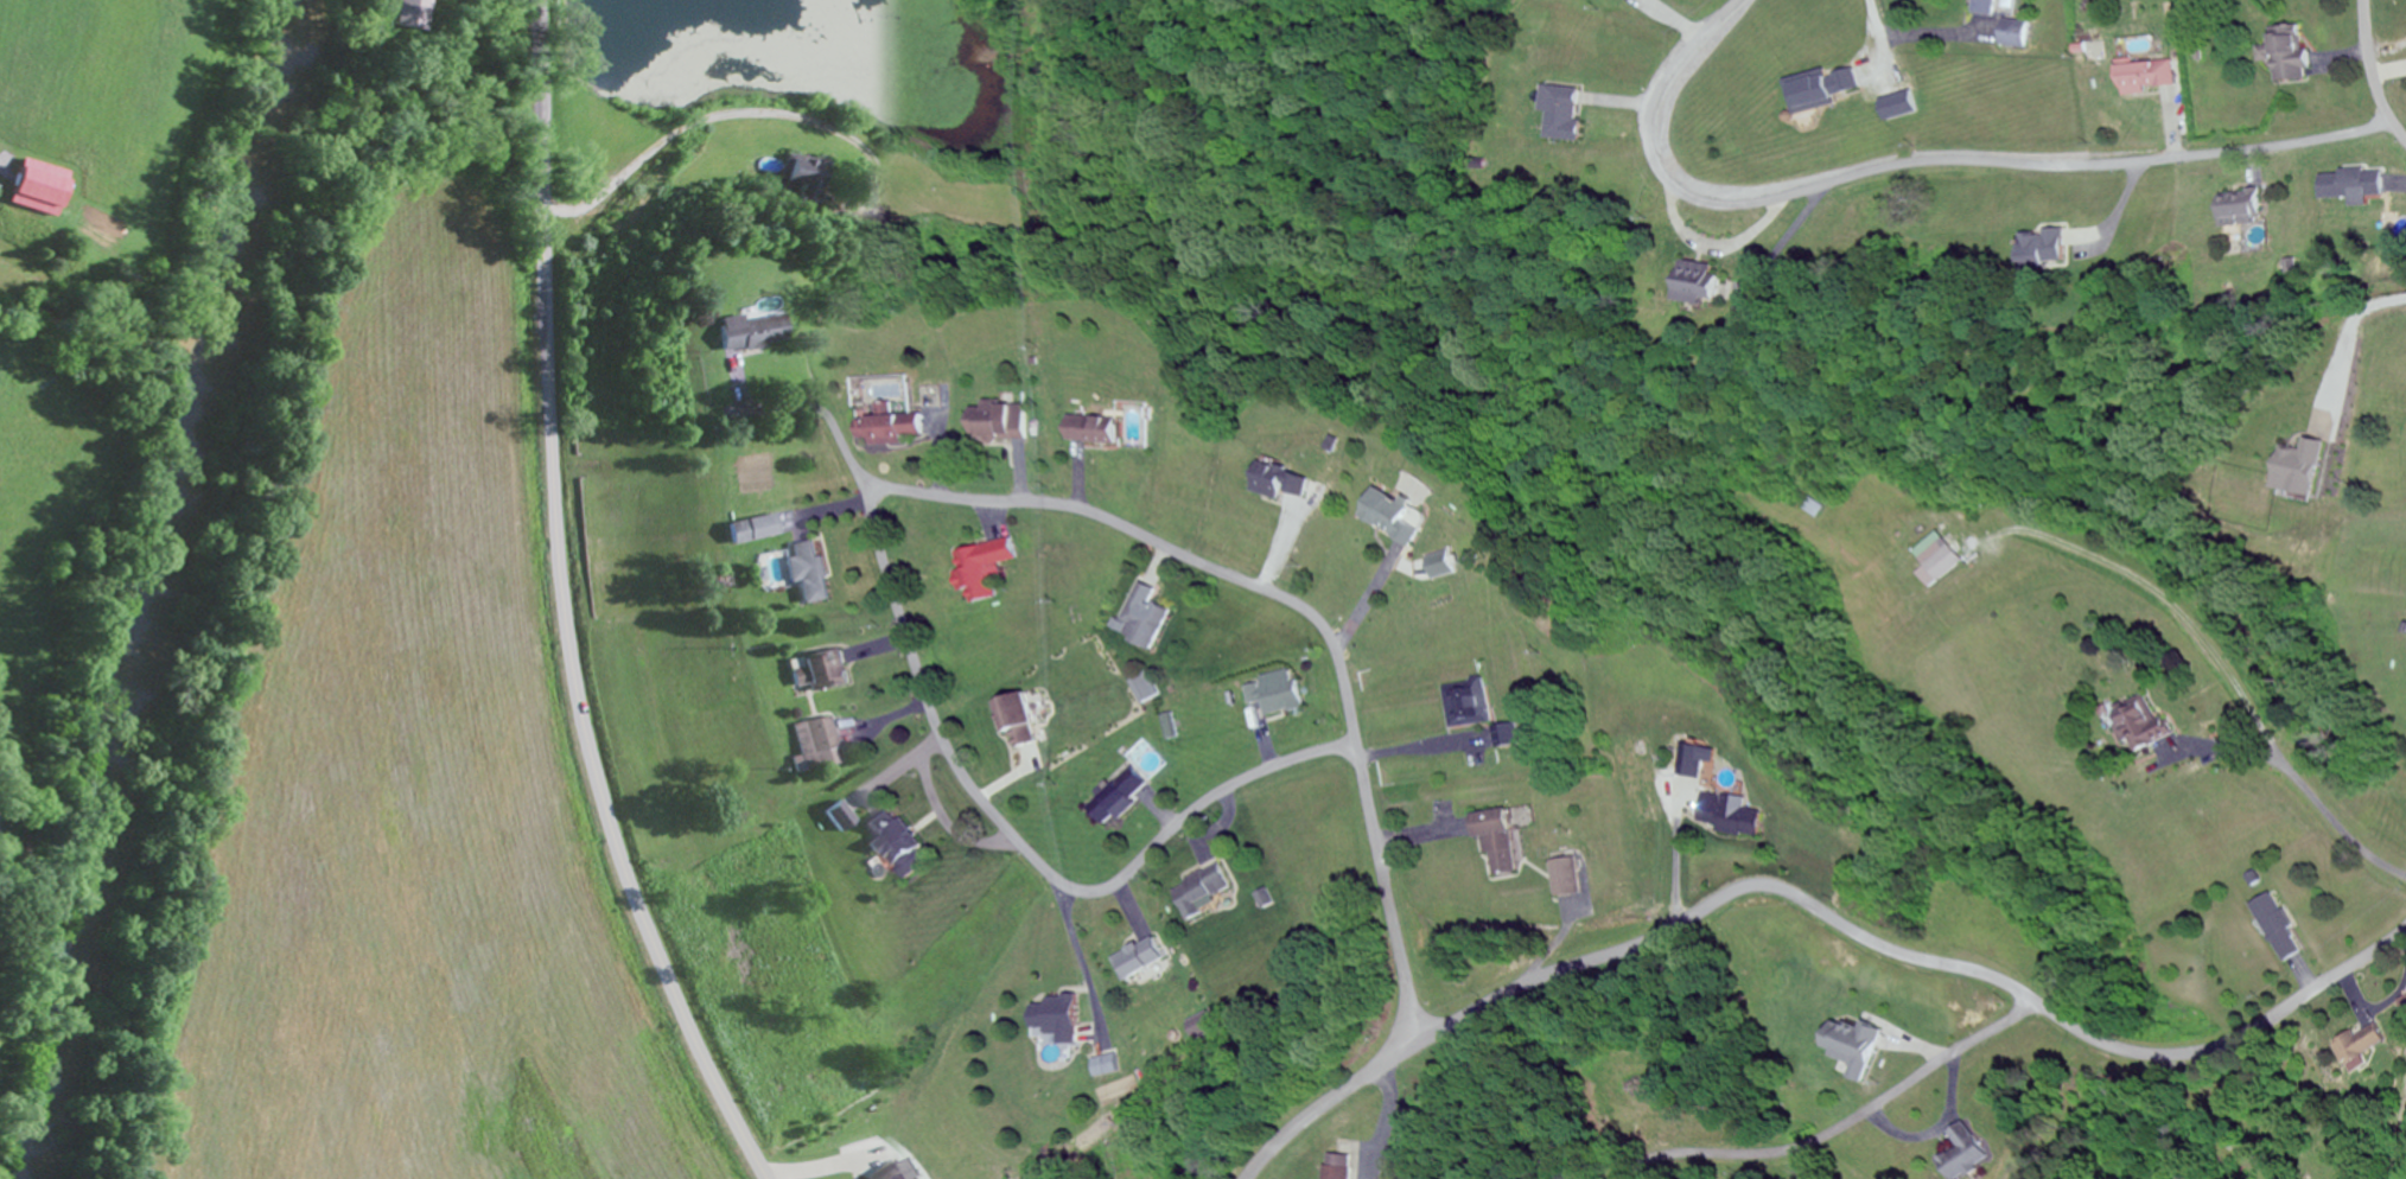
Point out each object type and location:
building: (1980, 7)
building: (408, 14)
road: (1878, 40)
building: (2284, 56)
road: (2374, 72)
building: (2143, 77)
building: (1819, 88)
building: (1892, 107)
building: (1557, 114)
road: (1916, 161)
building: (44, 190)
building: (2234, 216)
building: (2042, 249)
building: (1695, 285)
building: (736, 336)
building: (997, 423)
building: (890, 431)
building: (1090, 432)
road: (874, 522)
building: (747, 531)
building: (1936, 565)
building: (981, 568)
building: (806, 574)
river: (140, 585)
road: (567, 607)
building: (1139, 620)
building: (815, 673)
building: (1278, 700)
building: (2139, 727)
building: (819, 737)
building: (1116, 797)
building: (1730, 816)
building: (885, 839)
building: (1495, 841)
building: (1564, 878)
building: (1202, 892)
road: (1390, 893)
road: (1816, 907)
building: (2278, 929)
building: (1140, 954)
building: (1054, 1019)
building: (1852, 1049)
building: (2364, 1049)
road: (1845, 1124)
building: (1962, 1153)
building: (1332, 1172)
building: (889, 1173)
building: (914, 1178)

